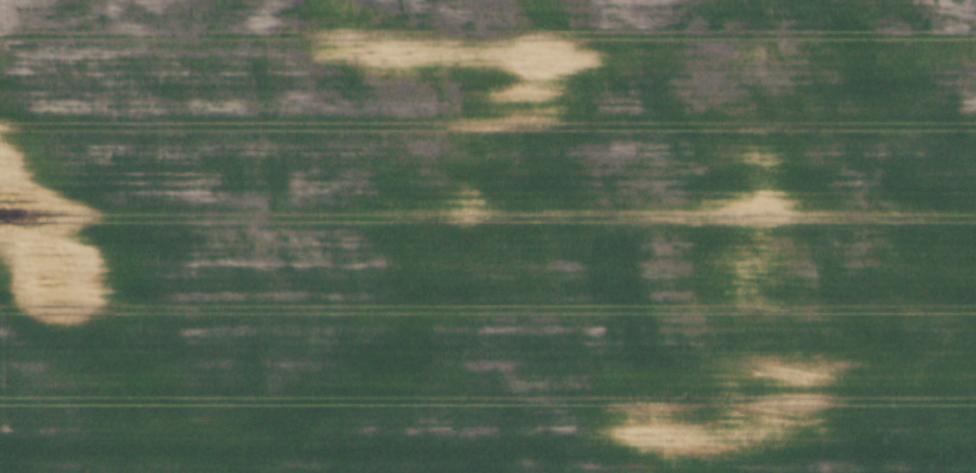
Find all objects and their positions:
crop: (488, 236)

